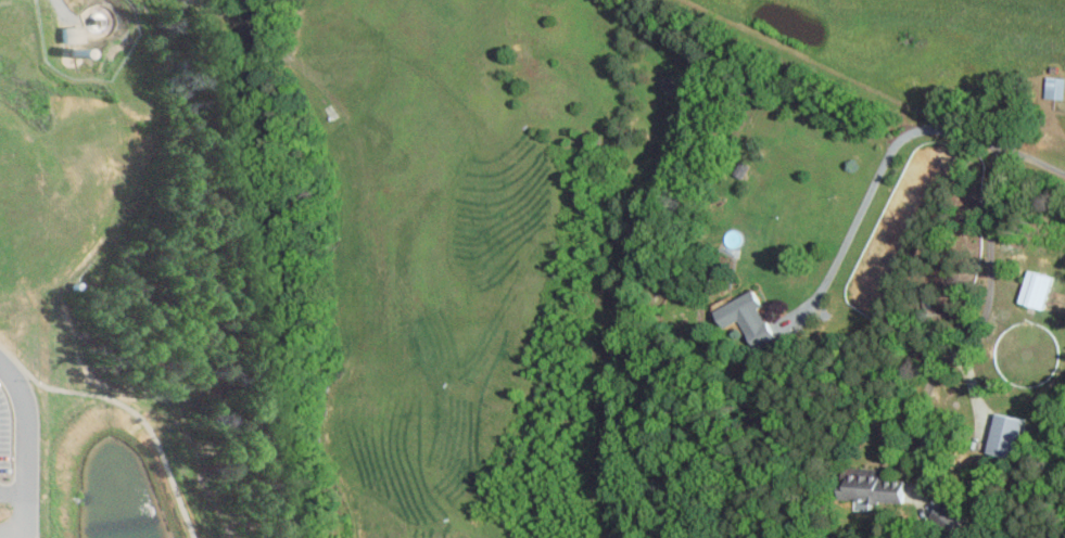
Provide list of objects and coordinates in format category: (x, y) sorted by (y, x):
building: (76, 34)
building: (1052, 87)
road: (895, 141)
building: (738, 169)
building: (1031, 289)
road: (984, 316)
building: (743, 317)
building: (1001, 434)
road: (29, 444)
building: (870, 487)

